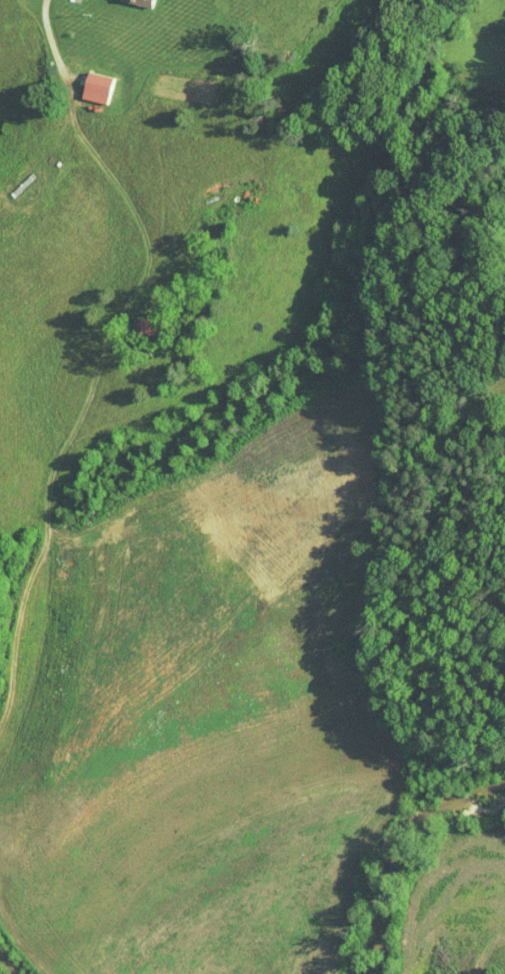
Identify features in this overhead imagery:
building: (133, 1)
building: (83, 81)
building: (129, 321)
road: (101, 360)
road: (41, 838)

